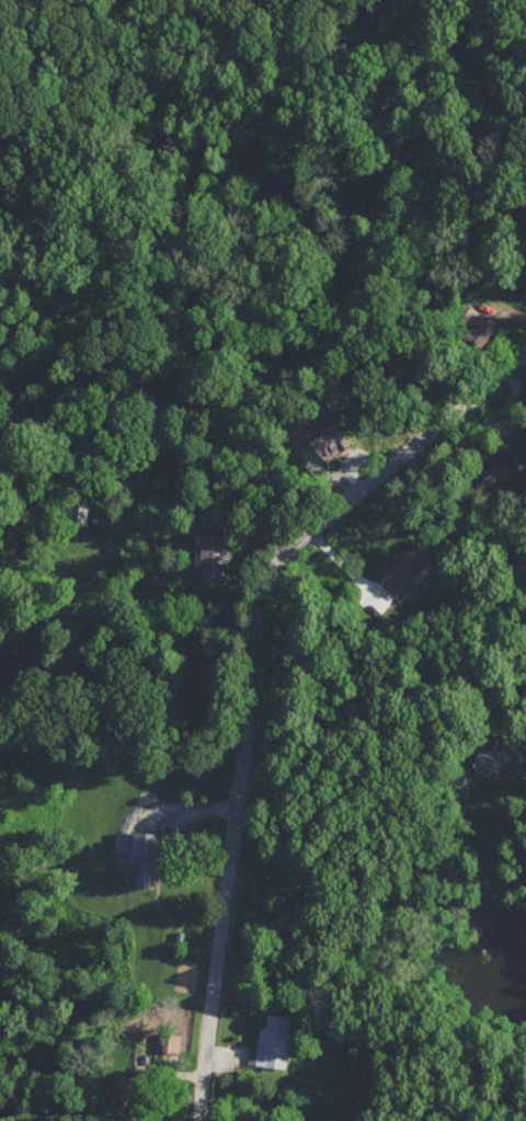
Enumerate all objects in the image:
building: (522, 286)
building: (481, 328)
building: (329, 438)
building: (502, 465)
building: (79, 510)
building: (214, 548)
building: (409, 567)
road: (253, 678)
building: (500, 758)
building: (141, 851)
building: (272, 1041)
building: (168, 1042)
building: (123, 1089)

